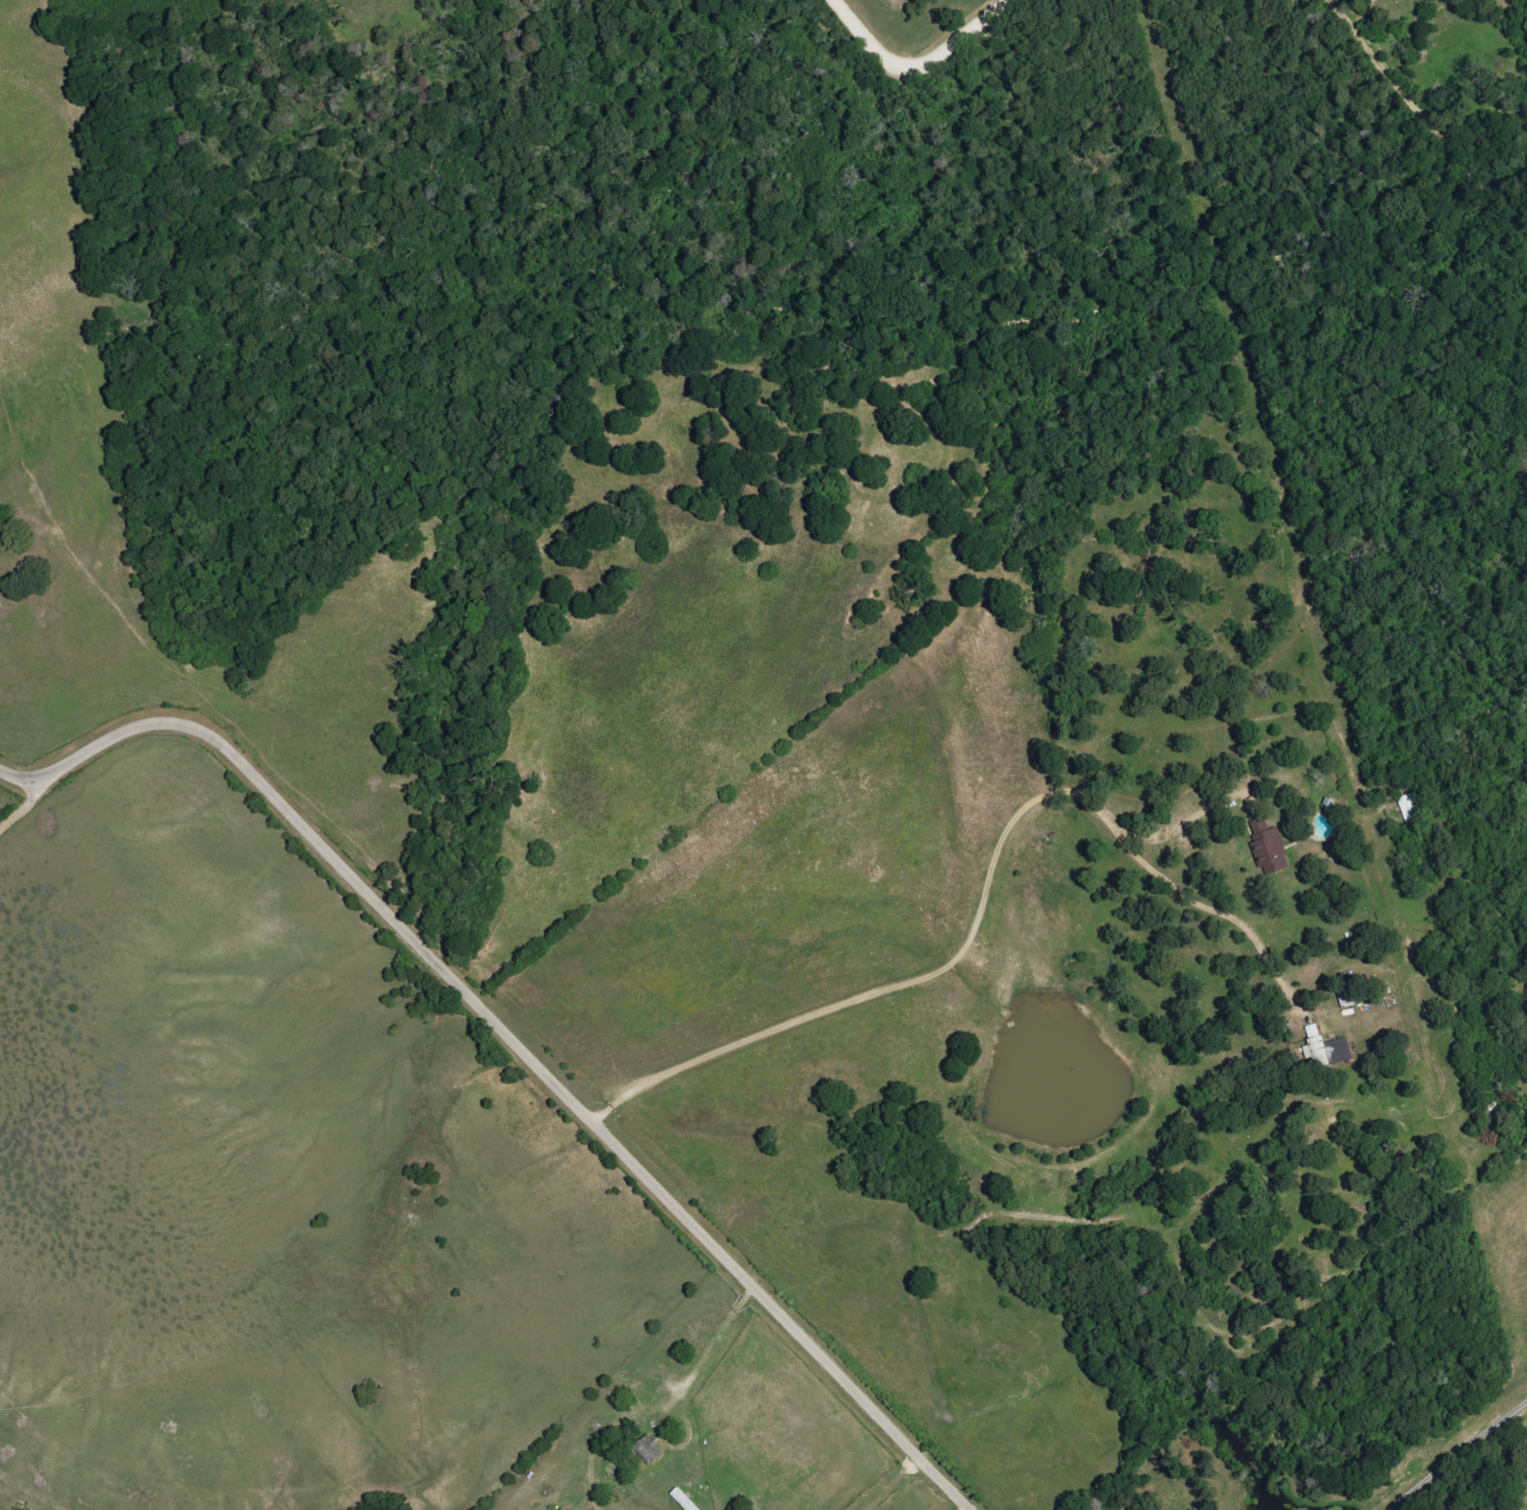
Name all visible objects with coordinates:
building: (1370, 0)
road: (923, 61)
road: (25, 776)
road: (25, 811)
building: (1267, 849)
road: (966, 949)
building: (1327, 1049)
road: (529, 1054)
road: (712, 1359)
building: (647, 1449)
road: (1460, 1460)
road: (911, 1486)

